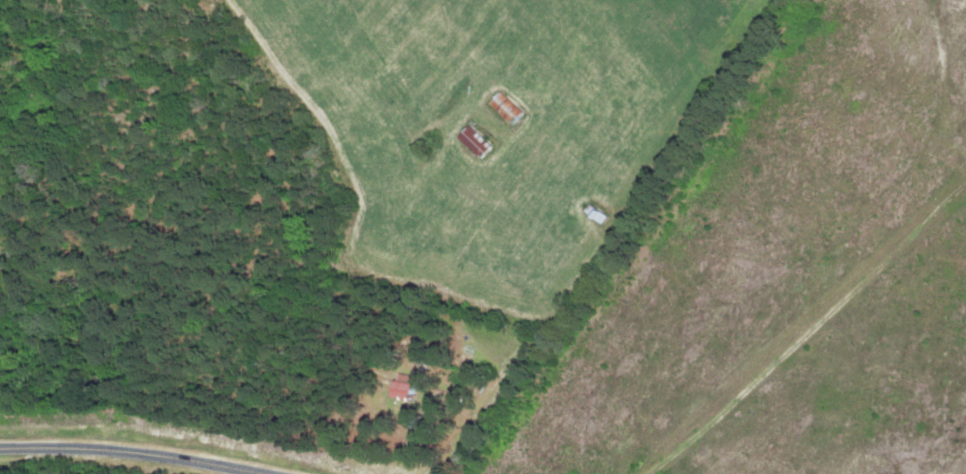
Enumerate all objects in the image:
building: (508, 106)
building: (476, 140)
building: (407, 385)
road: (127, 453)

